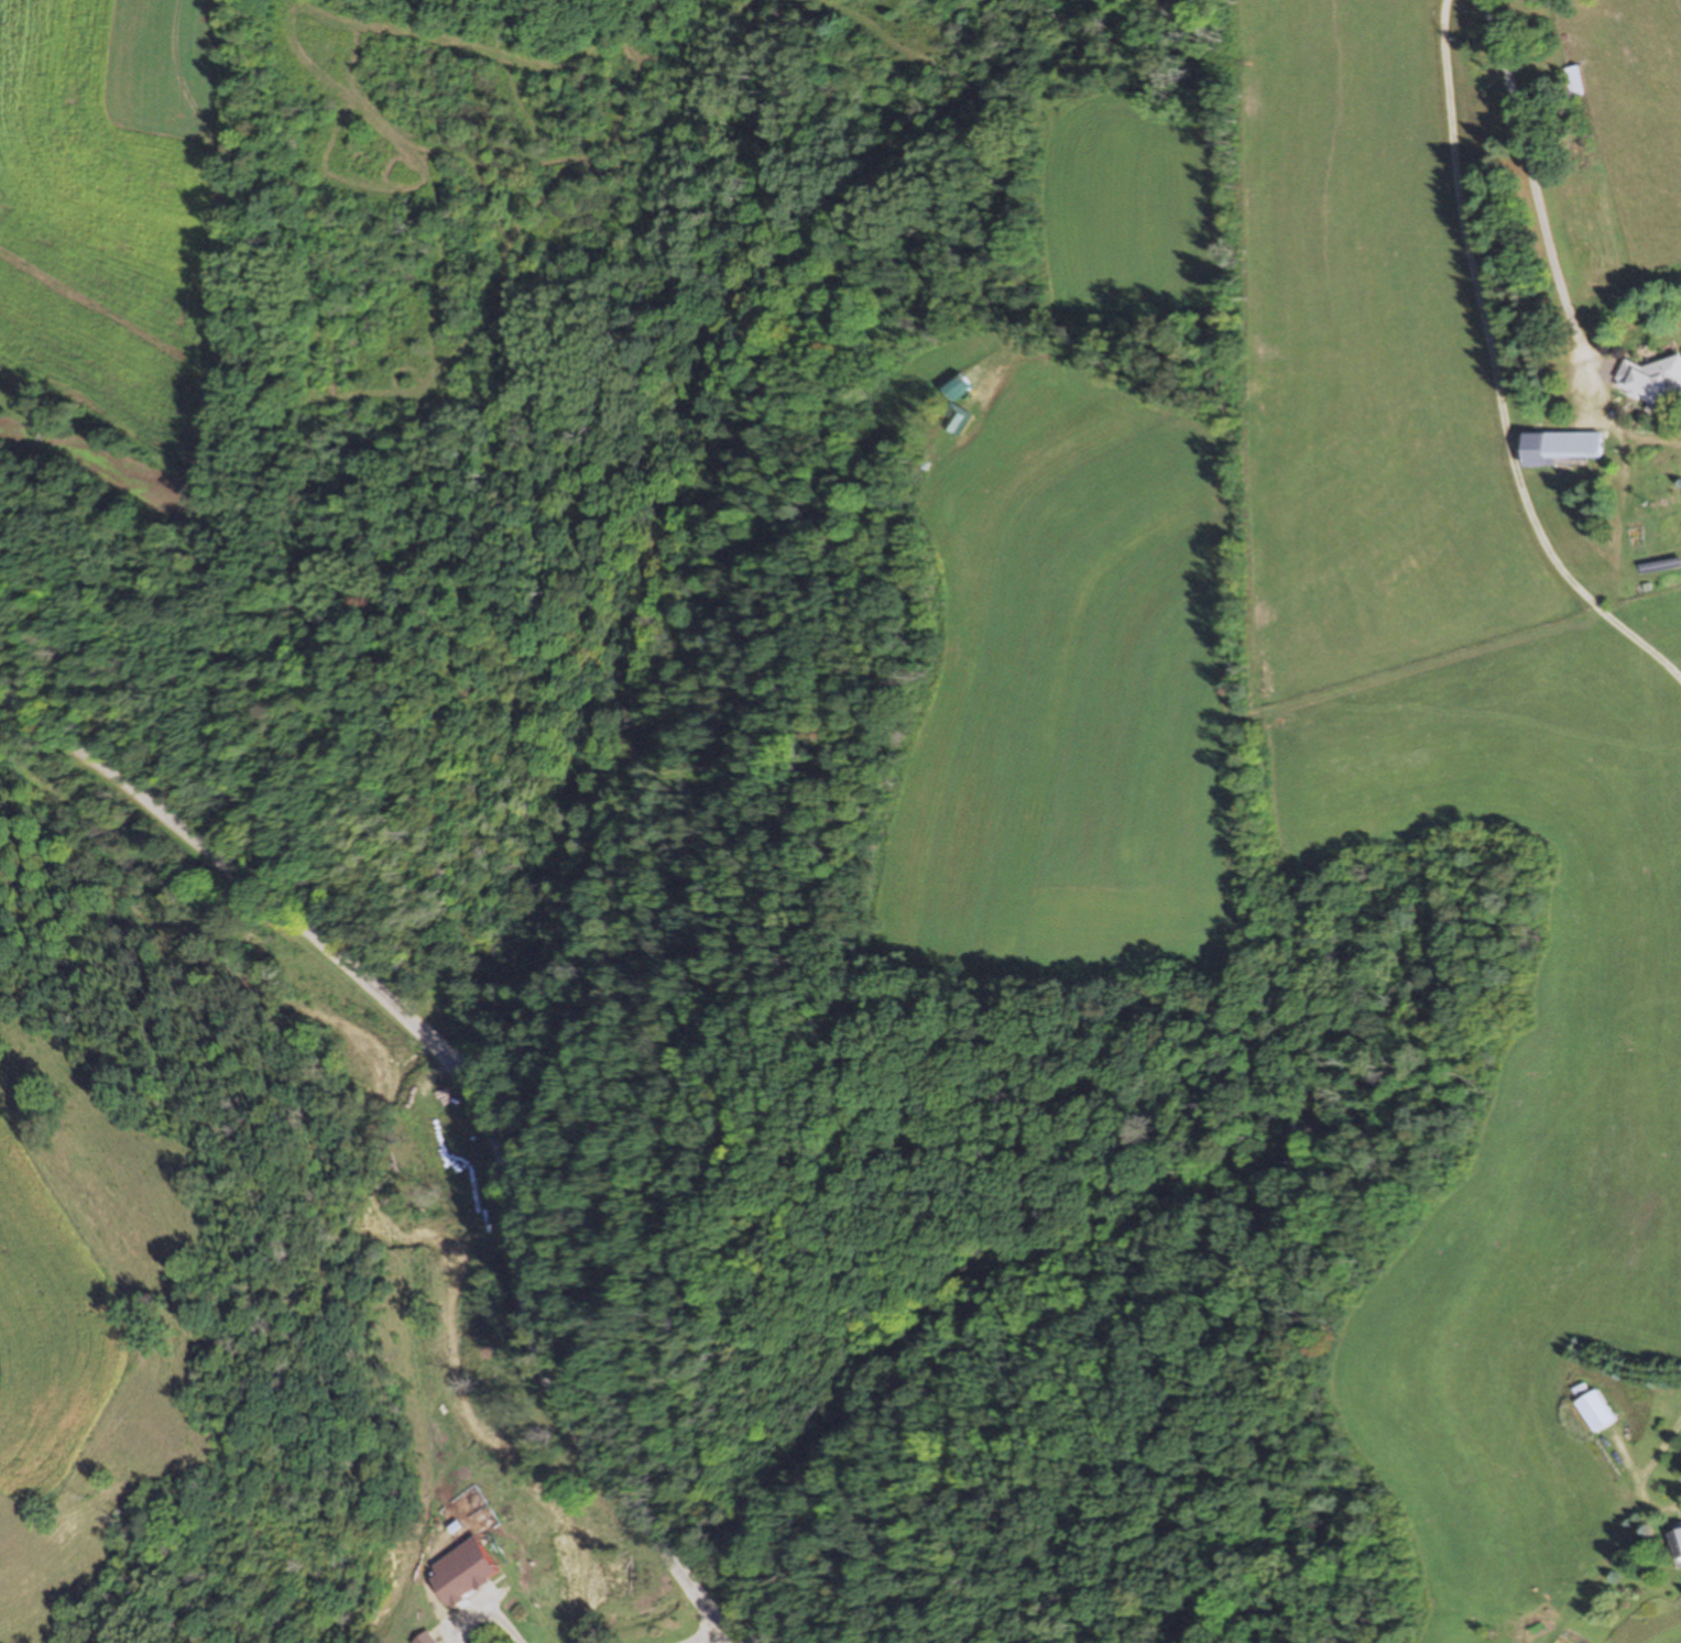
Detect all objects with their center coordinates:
building: (1573, 79)
road: (1516, 169)
building: (1592, 319)
building: (1650, 380)
building: (1570, 445)
road: (165, 825)
road: (496, 1313)
building: (1680, 1537)
building: (470, 1569)

